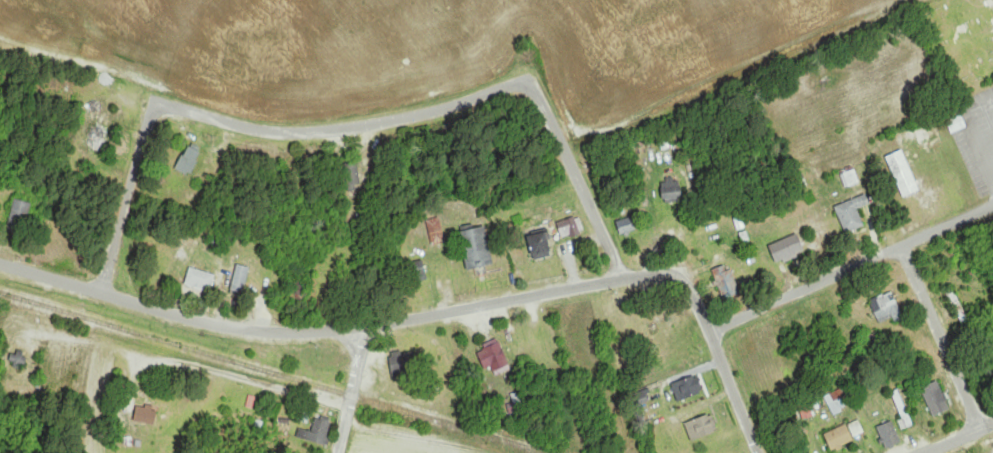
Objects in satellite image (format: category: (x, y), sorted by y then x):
road: (242, 125)
building: (96, 137)
building: (188, 162)
road: (578, 176)
building: (354, 177)
building: (670, 191)
building: (853, 215)
building: (19, 218)
building: (627, 227)
building: (570, 228)
building: (540, 247)
building: (476, 249)
building: (789, 250)
road: (851, 268)
building: (412, 272)
building: (197, 280)
building: (241, 280)
building: (726, 283)
building: (323, 288)
building: (957, 306)
building: (887, 309)
road: (366, 326)
road: (941, 336)
building: (17, 358)
building: (495, 359)
building: (403, 362)
railway: (273, 372)
building: (688, 385)
road: (352, 390)
road: (733, 391)
building: (839, 399)
building: (936, 399)
building: (903, 407)
building: (145, 413)
building: (701, 427)
building: (316, 431)
building: (843, 435)
building: (889, 435)
road: (959, 438)

